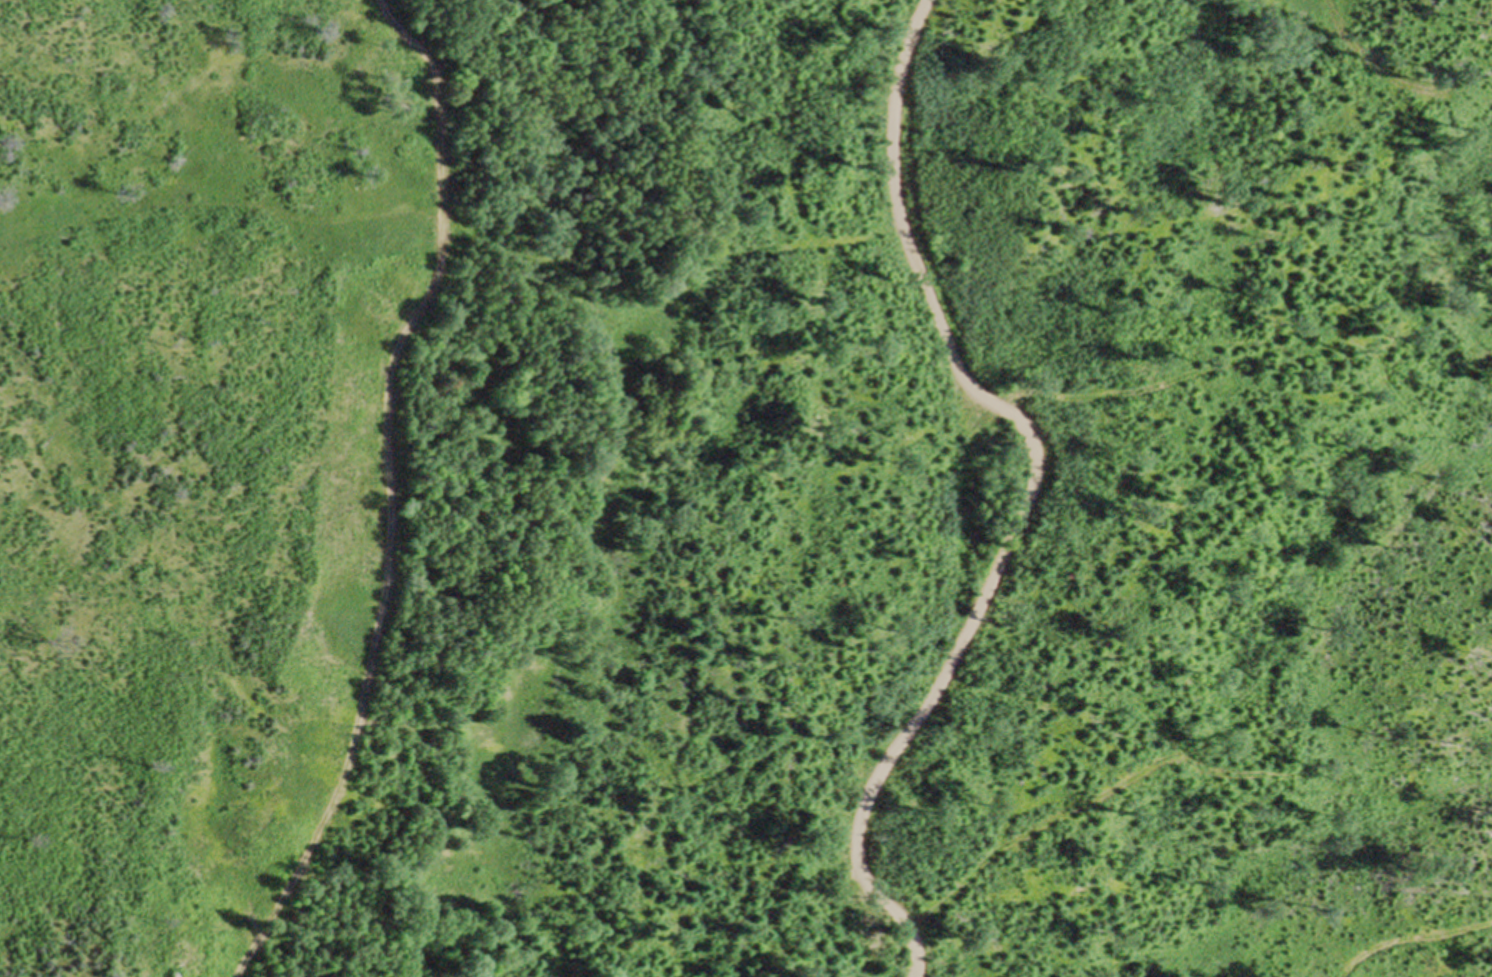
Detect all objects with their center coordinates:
road: (386, 489)
road: (1028, 491)

